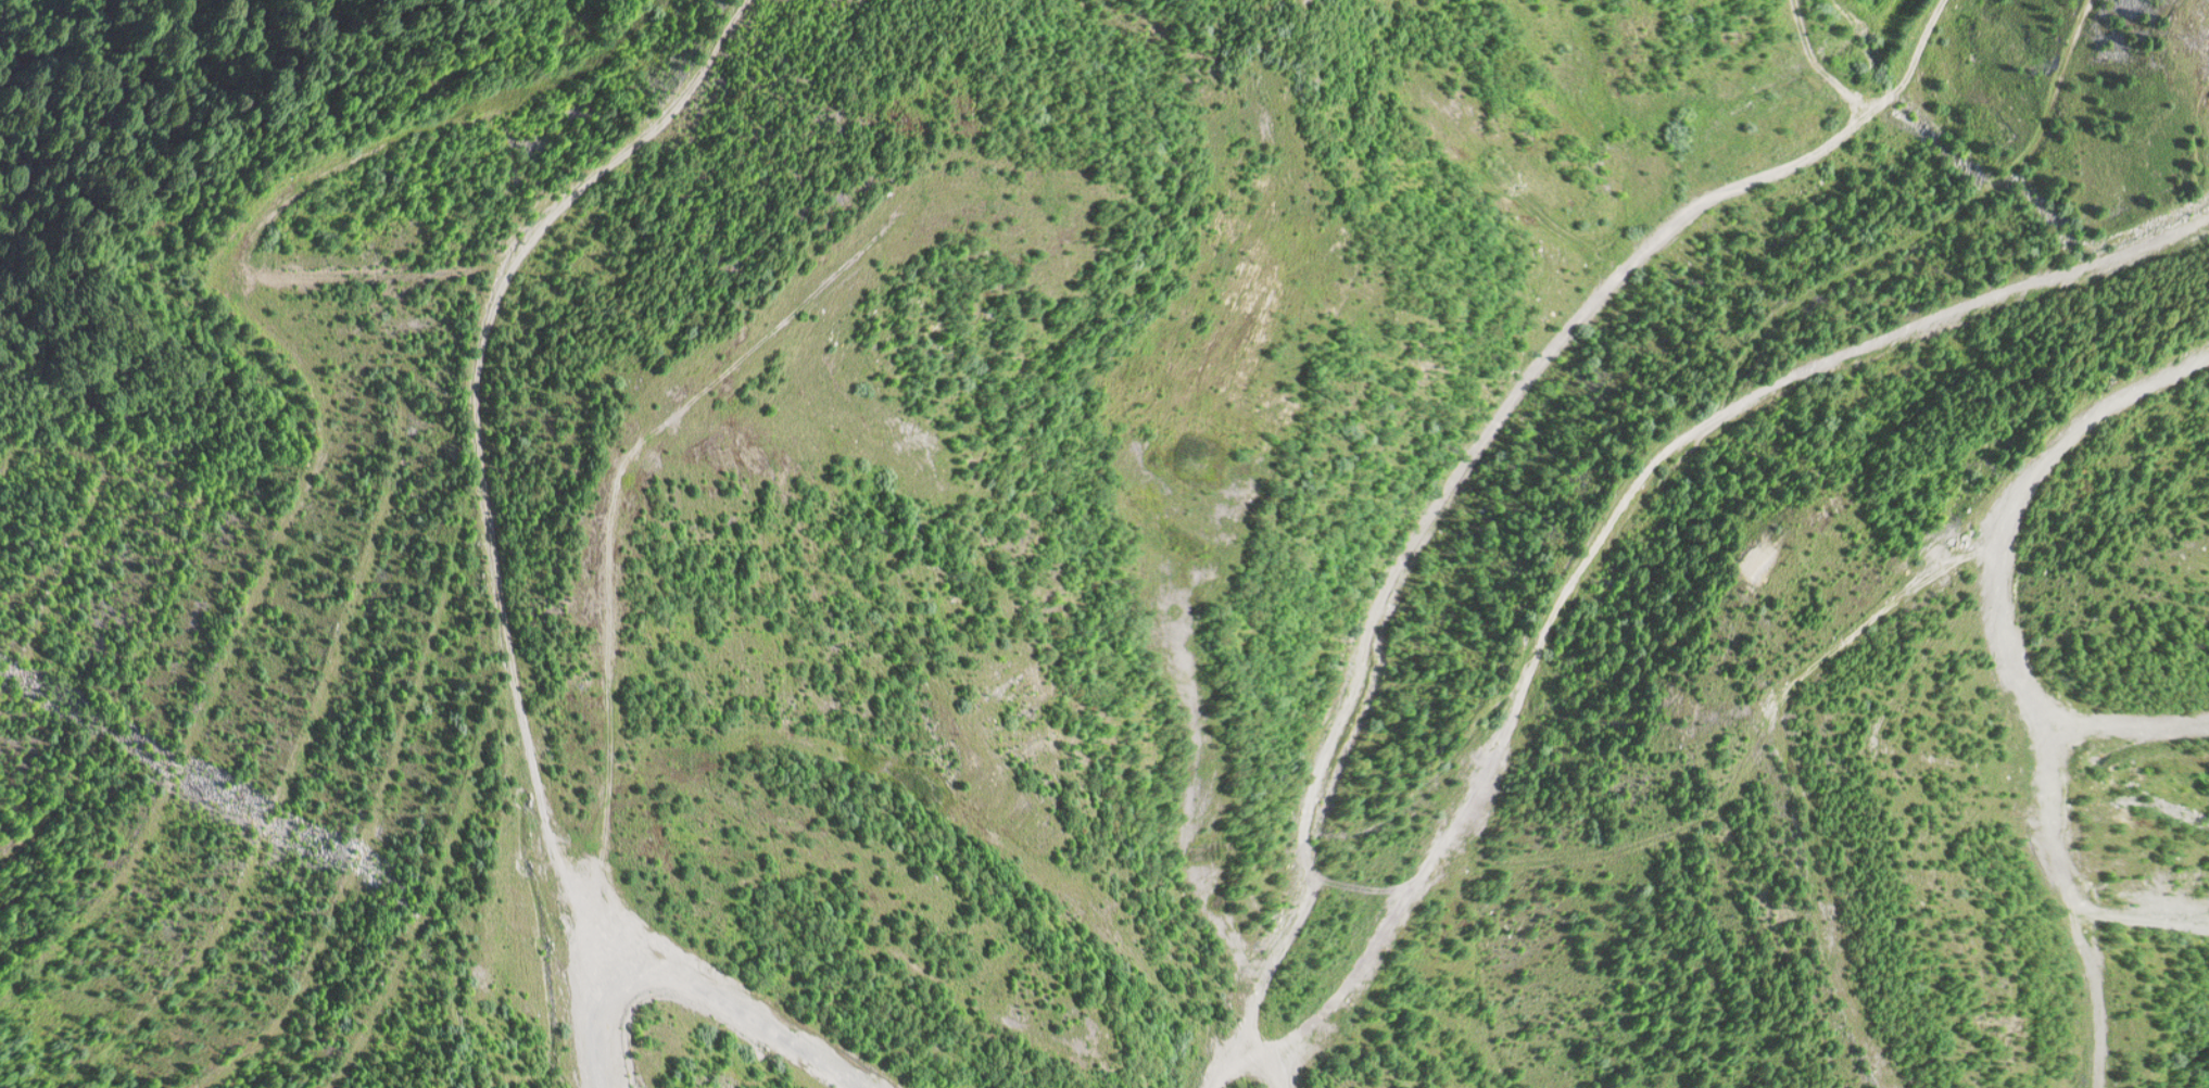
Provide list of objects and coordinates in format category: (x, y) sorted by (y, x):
quarry: (1104, 544)

